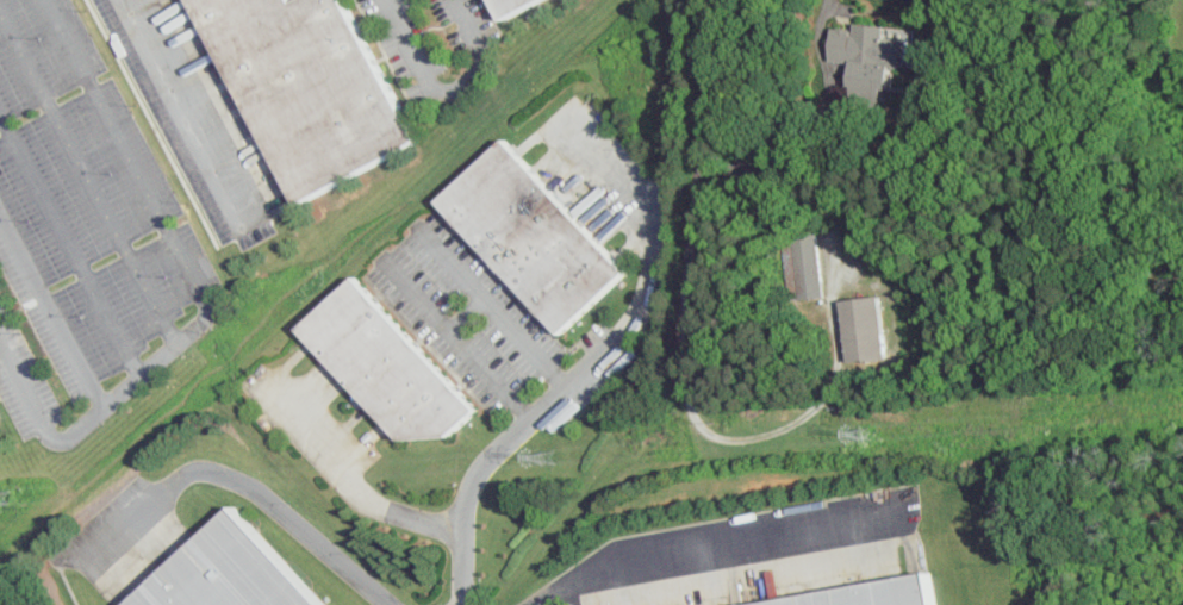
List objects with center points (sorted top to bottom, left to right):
road: (828, 1)
building: (513, 6)
building: (866, 48)
building: (311, 83)
road: (449, 89)
road: (178, 100)
road: (780, 119)
road: (758, 168)
road: (87, 179)
building: (534, 237)
road: (68, 242)
building: (801, 262)
road: (198, 292)
road: (491, 305)
road: (50, 308)
road: (466, 313)
building: (858, 326)
road: (612, 335)
road: (455, 338)
building: (387, 366)
building: (1, 416)
road: (698, 425)
power tower: (872, 434)
power tower: (549, 457)
road: (237, 484)
power tower: (8, 498)
road: (376, 503)
road: (708, 539)
building: (228, 570)
building: (871, 593)

